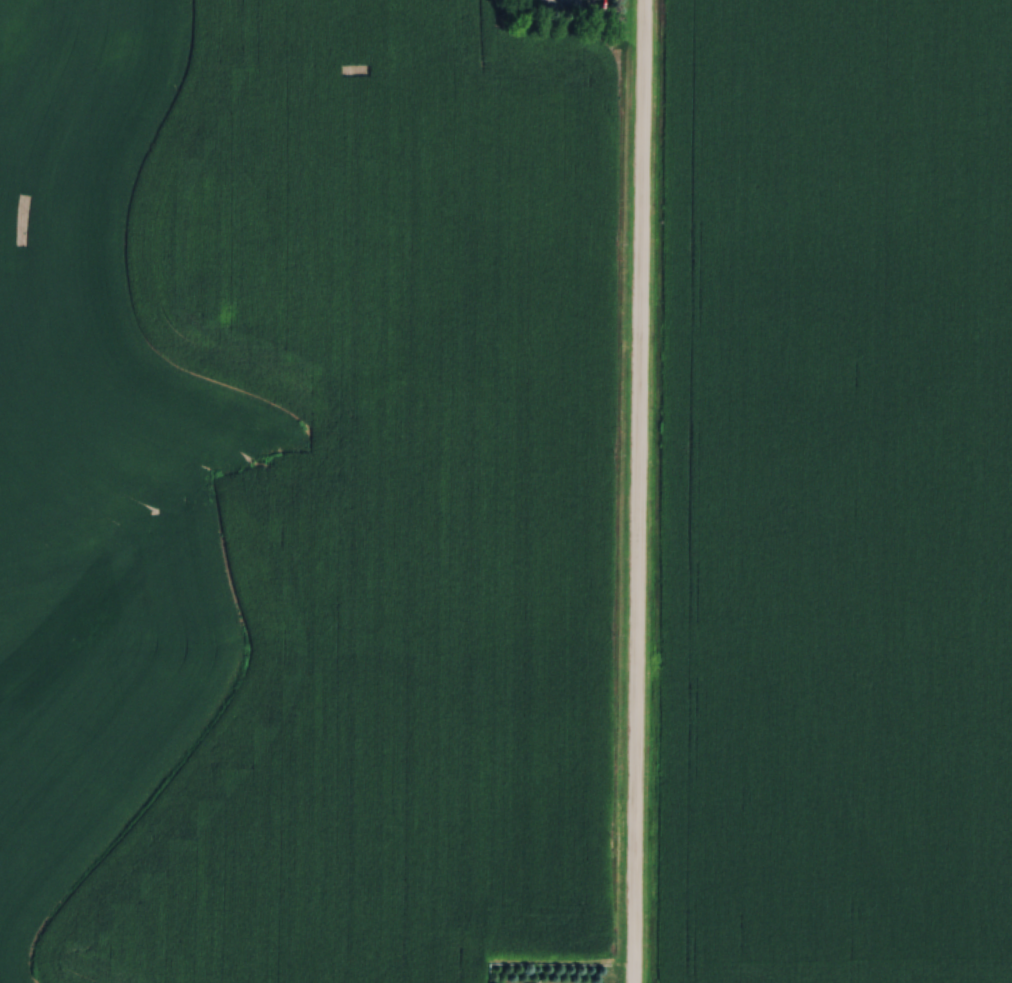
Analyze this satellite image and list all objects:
road: (638, 491)

